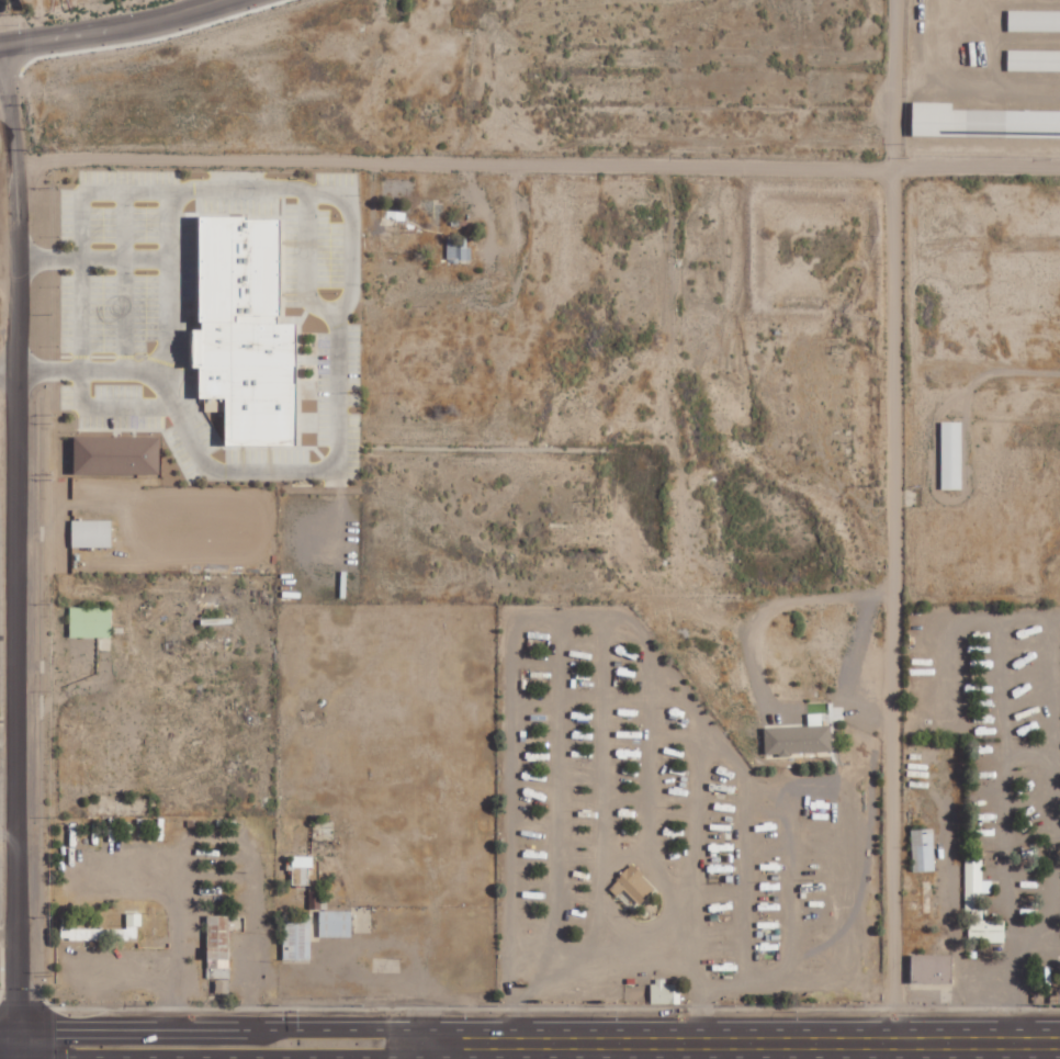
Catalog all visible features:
building: (1034, 21)
road: (115, 27)
building: (1034, 60)
road: (649, 80)
building: (983, 122)
road: (537, 157)
road: (675, 188)
building: (459, 249)
railway: (23, 327)
building: (245, 333)
road: (16, 352)
building: (119, 454)
building: (952, 454)
building: (92, 532)
road: (907, 607)
building: (90, 621)
railway: (41, 692)
building: (800, 737)
building: (924, 849)
road: (16, 852)
building: (302, 869)
building: (634, 885)
building: (980, 903)
building: (336, 924)
building: (104, 931)
building: (297, 938)
building: (218, 946)
building: (933, 969)
building: (665, 992)
road: (8, 1029)
road: (229, 1029)
road: (749, 1047)
road: (441, 1051)
road: (9, 1055)
road: (16, 1057)
road: (230, 1057)

